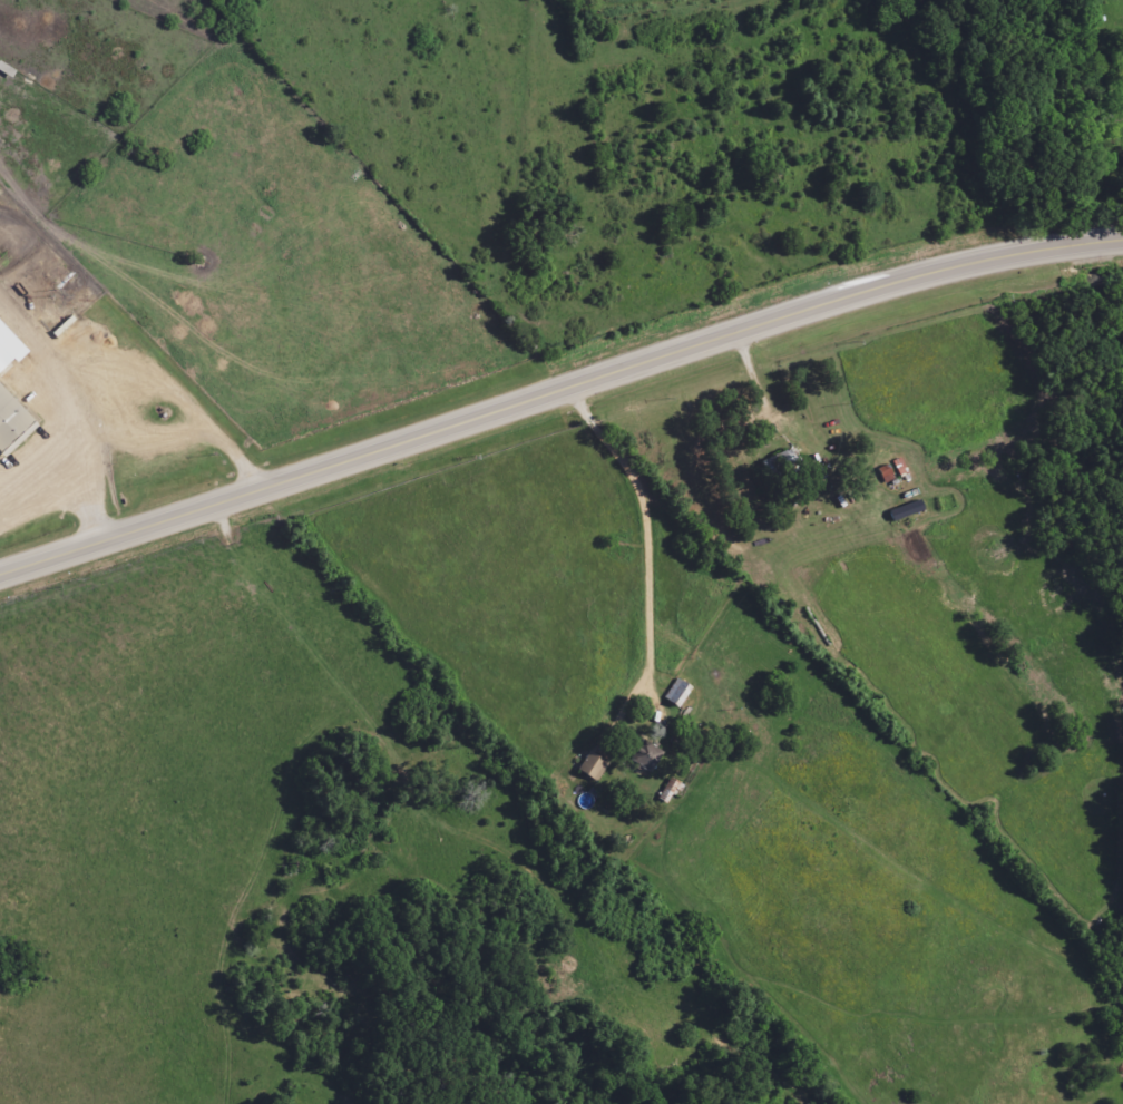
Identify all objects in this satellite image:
building: (9, 349)
road: (558, 395)
building: (12, 422)
building: (783, 463)
road: (636, 525)
building: (678, 693)
building: (647, 754)
building: (594, 766)

